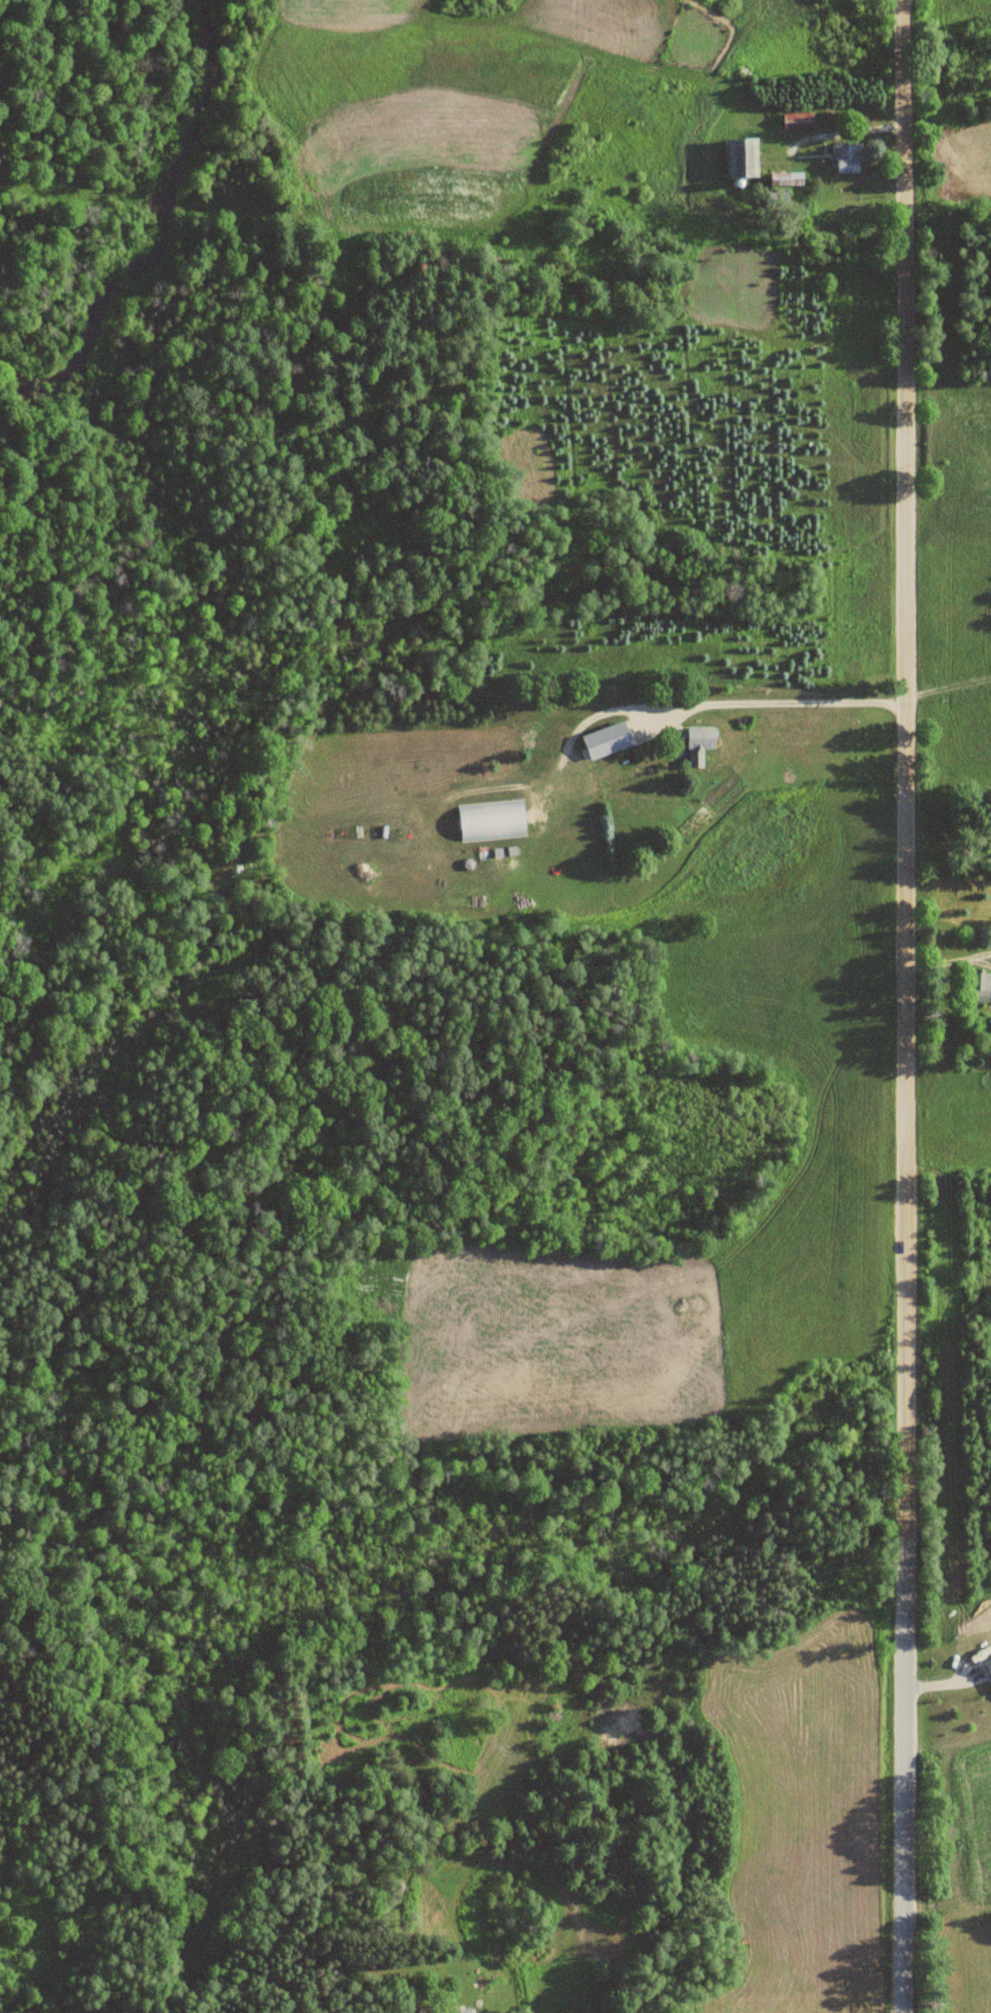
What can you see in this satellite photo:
building: (797, 121)
building: (846, 158)
building: (740, 159)
building: (785, 179)
river: (166, 242)
building: (606, 741)
building: (698, 745)
building: (478, 823)
building: (977, 987)
road: (902, 1006)
building: (987, 1667)
building: (465, 2011)

